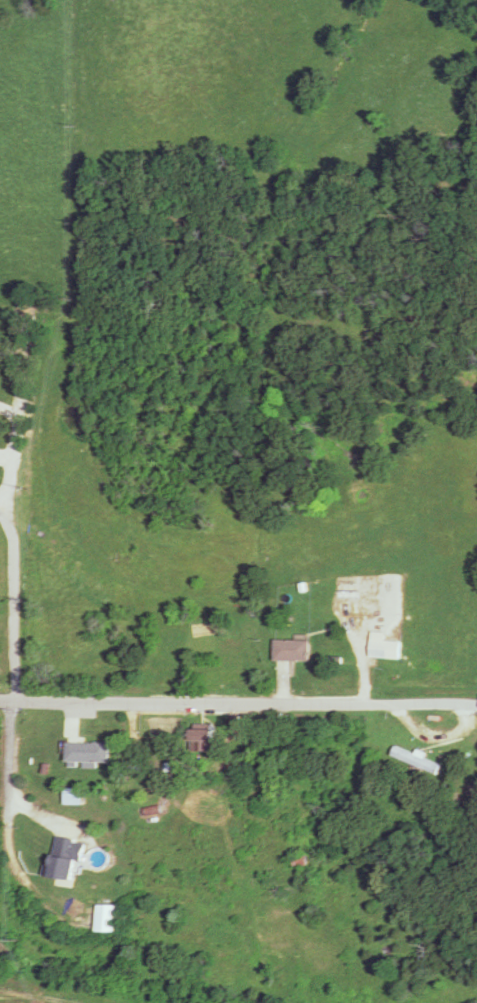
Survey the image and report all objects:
building: (349, 594)
road: (14, 605)
building: (384, 645)
building: (293, 649)
road: (238, 699)
building: (204, 739)
building: (87, 754)
building: (415, 759)
road: (20, 779)
building: (66, 858)

